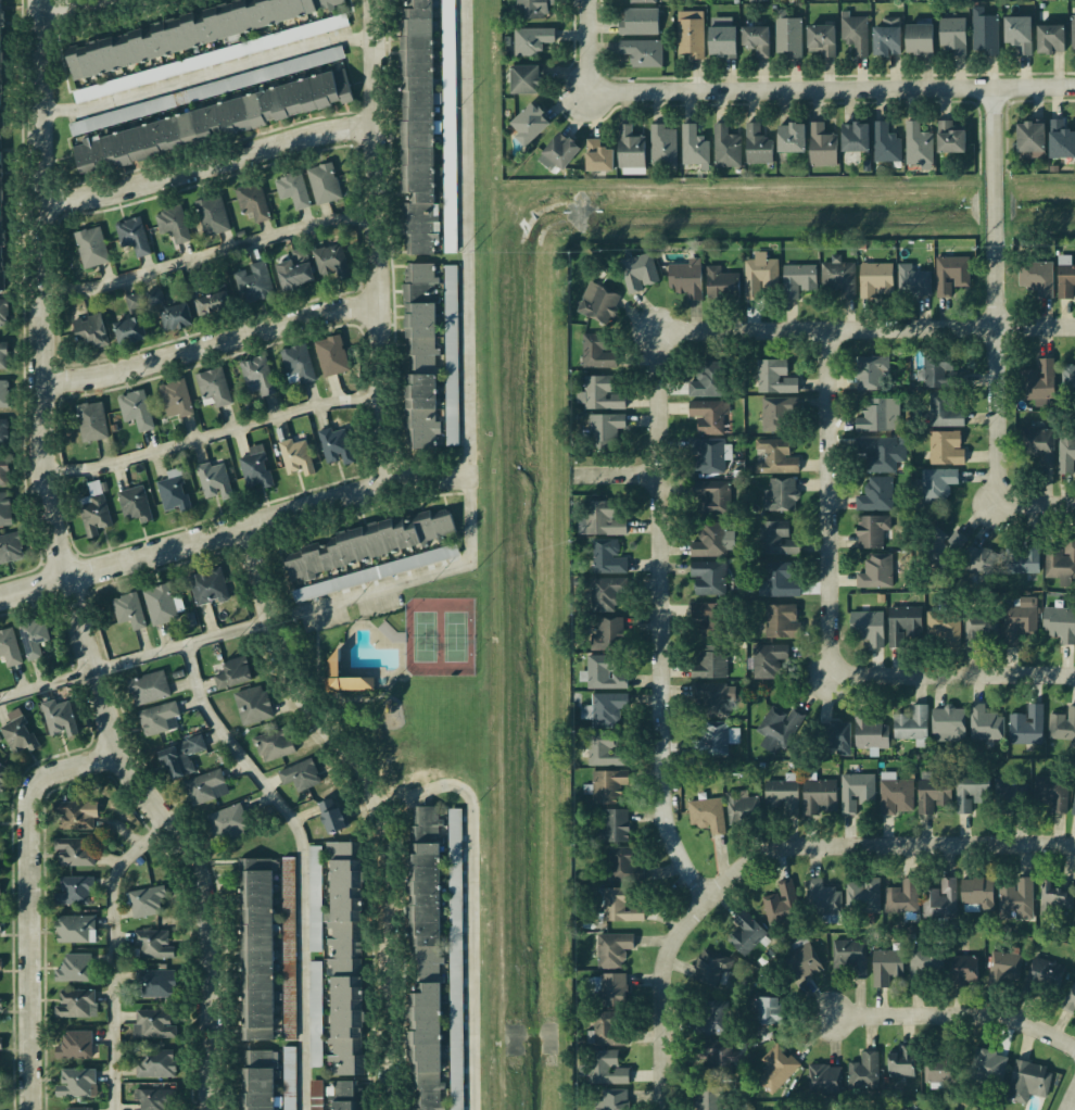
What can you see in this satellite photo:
building: (637, 1)
road: (65, 7)
building: (533, 8)
building: (638, 22)
building: (1071, 30)
building: (984, 31)
building: (179, 33)
building: (855, 33)
building: (690, 34)
building: (1019, 34)
building: (787, 35)
building: (952, 36)
building: (722, 37)
building: (887, 37)
building: (1047, 38)
building: (821, 39)
building: (919, 39)
building: (532, 40)
building: (756, 40)
road: (586, 47)
building: (643, 52)
road: (205, 75)
building: (527, 79)
road: (830, 90)
building: (208, 123)
building: (530, 124)
building: (415, 126)
building: (448, 130)
building: (855, 137)
building: (791, 138)
building: (949, 138)
building: (1028, 139)
building: (1058, 139)
building: (885, 143)
building: (662, 144)
building: (758, 146)
building: (822, 146)
building: (919, 146)
building: (694, 147)
building: (726, 147)
building: (631, 151)
building: (559, 152)
building: (598, 156)
road: (204, 164)
building: (1, 184)
building: (324, 184)
building: (292, 189)
building: (252, 201)
building: (212, 215)
building: (173, 224)
building: (132, 236)
road: (372, 240)
building: (91, 247)
road: (204, 256)
building: (331, 261)
building: (295, 270)
building: (637, 272)
building: (951, 274)
building: (759, 275)
building: (838, 276)
building: (1036, 277)
building: (686, 278)
building: (798, 279)
building: (875, 280)
building: (1064, 280)
building: (912, 281)
building: (254, 282)
building: (721, 283)
road: (994, 295)
building: (135, 303)
building: (212, 303)
building: (598, 303)
building: (3, 312)
building: (169, 312)
road: (864, 329)
building: (90, 330)
building: (130, 330)
building: (451, 338)
road: (208, 346)
building: (596, 352)
building: (1, 355)
building: (331, 355)
building: (419, 355)
building: (298, 364)
building: (872, 373)
building: (938, 373)
building: (257, 374)
building: (774, 377)
building: (1067, 377)
building: (707, 380)
building: (1037, 380)
building: (214, 386)
building: (600, 393)
building: (1, 394)
building: (176, 399)
building: (136, 409)
building: (945, 411)
building: (774, 414)
building: (880, 415)
building: (710, 416)
building: (92, 421)
building: (605, 429)
building: (1, 433)
road: (214, 436)
building: (1037, 442)
building: (336, 445)
building: (946, 447)
building: (1065, 452)
building: (880, 453)
building: (710, 455)
building: (775, 456)
building: (296, 457)
building: (255, 467)
building: (3, 471)
road: (618, 475)
building: (214, 480)
building: (937, 484)
building: (173, 491)
building: (875, 494)
building: (781, 495)
building: (711, 496)
road: (826, 503)
building: (135, 504)
road: (1037, 504)
building: (4, 509)
building: (93, 514)
building: (600, 519)
road: (468, 525)
road: (232, 529)
building: (872, 530)
building: (776, 538)
building: (712, 541)
building: (367, 544)
building: (944, 544)
building: (10, 547)
building: (607, 557)
building: (1024, 558)
building: (978, 560)
building: (1061, 560)
road: (64, 570)
building: (876, 571)
building: (375, 572)
building: (708, 577)
building: (777, 580)
building: (208, 586)
building: (604, 594)
building: (161, 604)
building: (128, 610)
road: (358, 618)
building: (707, 618)
road: (658, 619)
building: (782, 621)
building: (1020, 621)
building: (903, 623)
building: (1060, 623)
building: (868, 627)
building: (944, 627)
building: (978, 627)
road: (306, 633)
building: (606, 634)
park: (422, 635)
park: (438, 636)
park: (454, 636)
building: (34, 638)
building: (9, 647)
road: (315, 657)
building: (767, 660)
building: (710, 663)
building: (331, 668)
building: (232, 672)
road: (406, 672)
building: (605, 672)
road: (951, 674)
road: (406, 677)
road: (399, 679)
park: (403, 679)
road: (309, 683)
road: (389, 684)
road: (329, 685)
building: (149, 688)
building: (712, 698)
road: (352, 699)
road: (326, 704)
building: (252, 705)
building: (605, 709)
building: (59, 718)
building: (159, 718)
building: (948, 723)
building: (985, 723)
building: (912, 724)
building: (1062, 724)
building: (1026, 727)
building: (779, 728)
building: (17, 732)
building: (870, 732)
building: (837, 736)
building: (713, 739)
building: (275, 744)
building: (605, 749)
building: (181, 757)
building: (1, 773)
building: (300, 774)
building: (608, 786)
building: (205, 787)
building: (1004, 787)
building: (857, 791)
building: (970, 791)
building: (1051, 792)
building: (932, 793)
building: (782, 794)
building: (895, 794)
building: (819, 796)
road: (375, 800)
building: (1073, 804)
building: (741, 805)
building: (76, 815)
building: (707, 815)
building: (333, 817)
building: (614, 827)
road: (882, 844)
building: (74, 852)
building: (0, 853)
road: (300, 859)
building: (624, 865)
building: (0, 886)
building: (74, 891)
building: (976, 895)
building: (862, 896)
building: (902, 897)
building: (314, 898)
building: (1054, 898)
building: (939, 899)
building: (1015, 899)
building: (146, 900)
building: (823, 900)
road: (471, 904)
road: (35, 905)
building: (620, 906)
building: (781, 906)
building: (0, 929)
building: (75, 929)
building: (745, 933)
building: (152, 944)
building: (253, 948)
building: (612, 949)
road: (111, 954)
building: (851, 955)
building: (343, 958)
building: (423, 958)
building: (455, 959)
building: (801, 960)
building: (925, 960)
building: (1, 964)
building: (886, 966)
building: (1004, 967)
building: (75, 968)
building: (712, 968)
building: (964, 971)
building: (1045, 972)
building: (155, 982)
building: (611, 989)
building: (315, 997)
road: (667, 998)
building: (1071, 1001)
building: (76, 1004)
building: (0, 1005)
building: (768, 1011)
road: (954, 1014)
building: (709, 1019)
building: (153, 1023)
building: (608, 1030)
building: (0, 1044)
building: (75, 1045)
building: (716, 1058)
building: (901, 1062)
building: (155, 1063)
building: (987, 1065)
building: (606, 1068)
building: (776, 1069)
building: (938, 1071)
building: (863, 1072)
building: (288, 1080)
building: (255, 1081)
building: (824, 1081)
building: (0, 1082)
building: (1028, 1082)
building: (76, 1083)
building: (344, 1095)
building: (706, 1097)
building: (153, 1099)
building: (615, 1099)
road: (1073, 1105)
building: (897, 1108)
building: (73, 1109)

